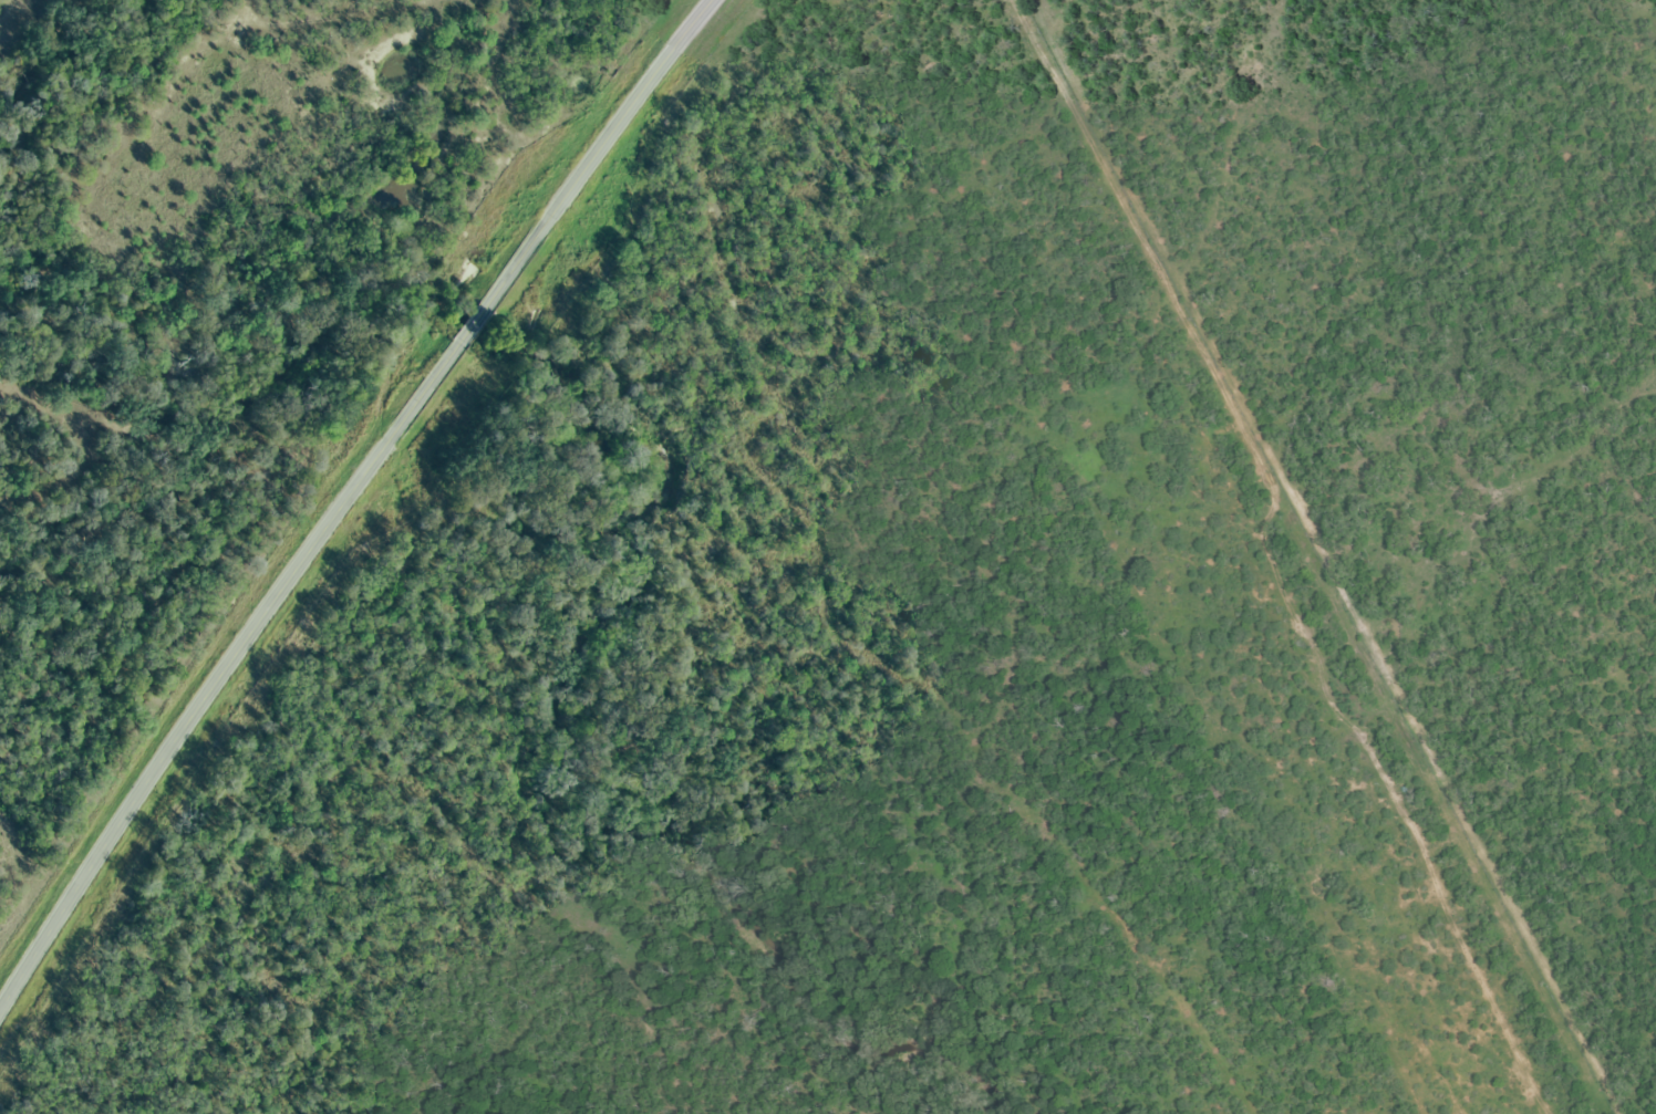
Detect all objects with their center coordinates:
road: (596, 152)
road: (469, 326)
road: (221, 673)

